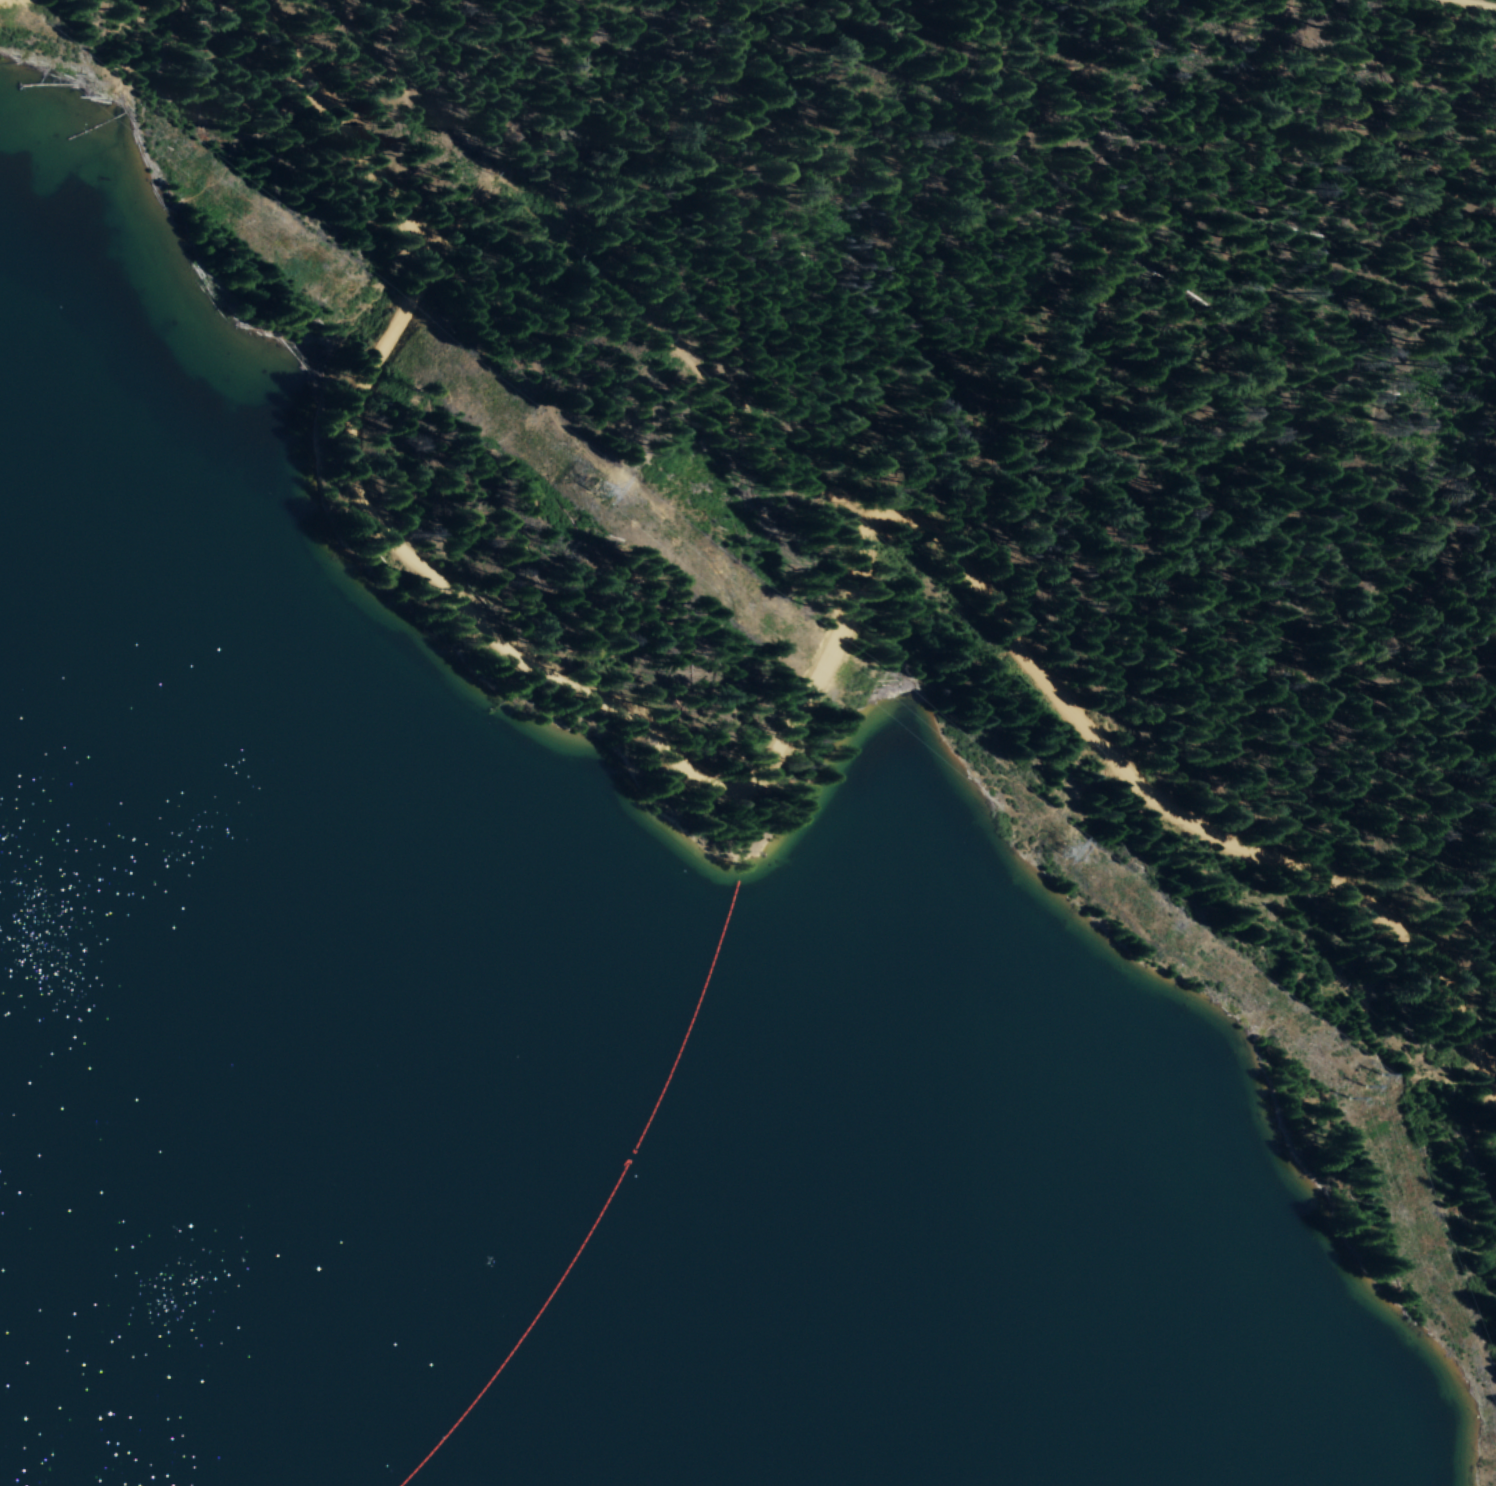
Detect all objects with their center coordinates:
road: (1455, 10)
power tower: (596, 486)
road: (785, 729)
power tower: (1063, 850)
power tower: (1365, 1087)

